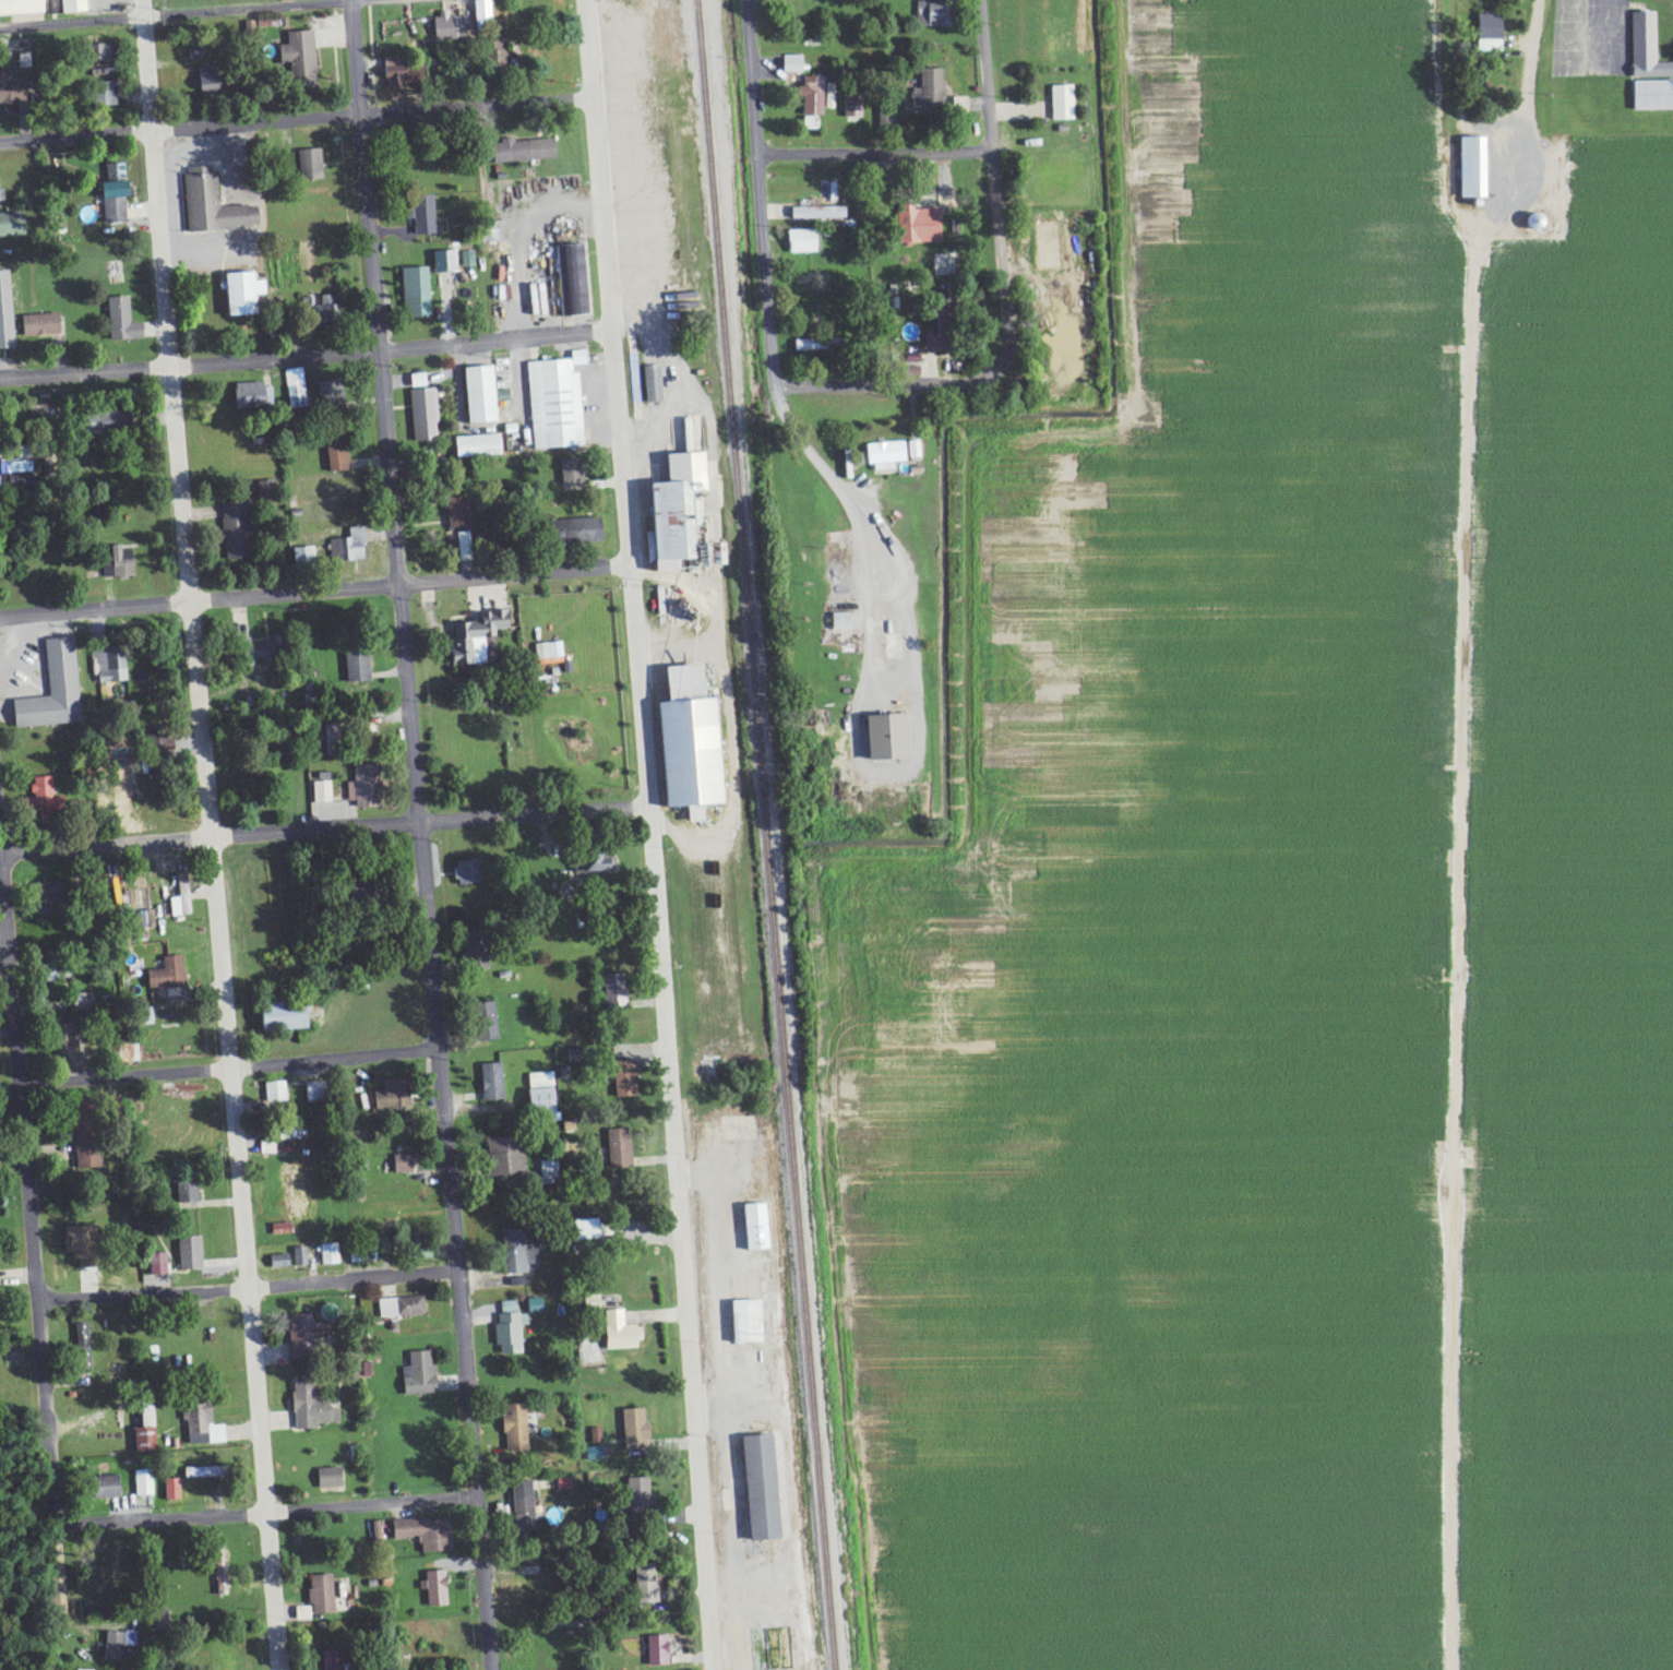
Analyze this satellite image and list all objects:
building: (289, 0)
building: (75, 7)
building: (22, 8)
road: (182, 11)
building: (485, 13)
building: (929, 14)
road: (1538, 24)
road: (1610, 27)
building: (452, 28)
building: (1485, 34)
building: (491, 52)
building: (302, 59)
building: (789, 64)
building: (399, 72)
road: (988, 73)
road: (753, 74)
building: (213, 80)
building: (13, 90)
building: (927, 90)
building: (110, 94)
building: (1651, 94)
building: (809, 96)
building: (1060, 103)
building: (957, 105)
building: (849, 107)
building: (884, 116)
road: (296, 118)
building: (809, 123)
road: (875, 153)
building: (313, 165)
building: (2, 192)
building: (117, 193)
building: (215, 205)
building: (814, 213)
building: (419, 215)
building: (13, 224)
building: (915, 225)
building: (801, 241)
road: (999, 260)
building: (441, 262)
building: (940, 265)
building: (573, 281)
building: (247, 293)
building: (413, 294)
building: (535, 300)
building: (331, 306)
building: (7, 310)
building: (124, 321)
building: (44, 325)
building: (805, 345)
road: (306, 354)
building: (909, 371)
building: (415, 381)
building: (650, 384)
road: (927, 384)
building: (297, 387)
building: (331, 393)
building: (477, 395)
building: (254, 396)
building: (553, 403)
road: (785, 409)
building: (421, 416)
building: (116, 420)
building: (475, 446)
building: (891, 454)
building: (339, 455)
building: (569, 473)
building: (19, 475)
building: (267, 491)
building: (453, 511)
building: (671, 511)
building: (238, 530)
building: (567, 532)
building: (464, 542)
building: (351, 546)
building: (707, 560)
building: (120, 565)
road: (315, 587)
building: (667, 608)
building: (837, 622)
building: (475, 637)
building: (889, 647)
building: (268, 648)
building: (547, 651)
building: (110, 665)
building: (360, 666)
building: (56, 690)
building: (880, 738)
building: (682, 744)
building: (162, 751)
building: (367, 787)
building: (324, 792)
building: (47, 798)
road: (325, 827)
road: (211, 834)
road: (653, 834)
road: (420, 835)
railway: (768, 835)
building: (593, 864)
building: (469, 872)
building: (56, 893)
building: (183, 898)
building: (482, 947)
building: (170, 974)
building: (611, 992)
building: (490, 1013)
building: (290, 1016)
building: (74, 1037)
road: (229, 1065)
building: (622, 1078)
building: (494, 1083)
building: (318, 1092)
building: (277, 1093)
building: (539, 1093)
building: (395, 1096)
building: (91, 1134)
building: (270, 1147)
building: (617, 1148)
building: (503, 1158)
building: (405, 1164)
building: (548, 1172)
building: (190, 1192)
building: (753, 1227)
building: (284, 1229)
building: (582, 1230)
building: (85, 1245)
building: (514, 1252)
building: (192, 1253)
road: (34, 1254)
building: (332, 1254)
building: (301, 1257)
building: (282, 1262)
building: (160, 1265)
road: (247, 1289)
building: (404, 1308)
building: (744, 1322)
building: (507, 1328)
building: (617, 1332)
building: (306, 1336)
building: (84, 1337)
building: (416, 1374)
building: (313, 1408)
building: (632, 1426)
building: (205, 1427)
building: (512, 1428)
building: (593, 1435)
building: (148, 1441)
building: (591, 1453)
building: (207, 1472)
building: (326, 1478)
building: (145, 1483)
building: (111, 1487)
building: (755, 1488)
building: (174, 1490)
building: (635, 1493)
building: (521, 1508)
road: (267, 1516)
building: (375, 1532)
building: (420, 1534)
building: (219, 1577)
building: (642, 1585)
building: (433, 1588)
building: (315, 1598)
building: (120, 1645)
building: (655, 1650)
building: (330, 1667)
building: (440, 1669)

